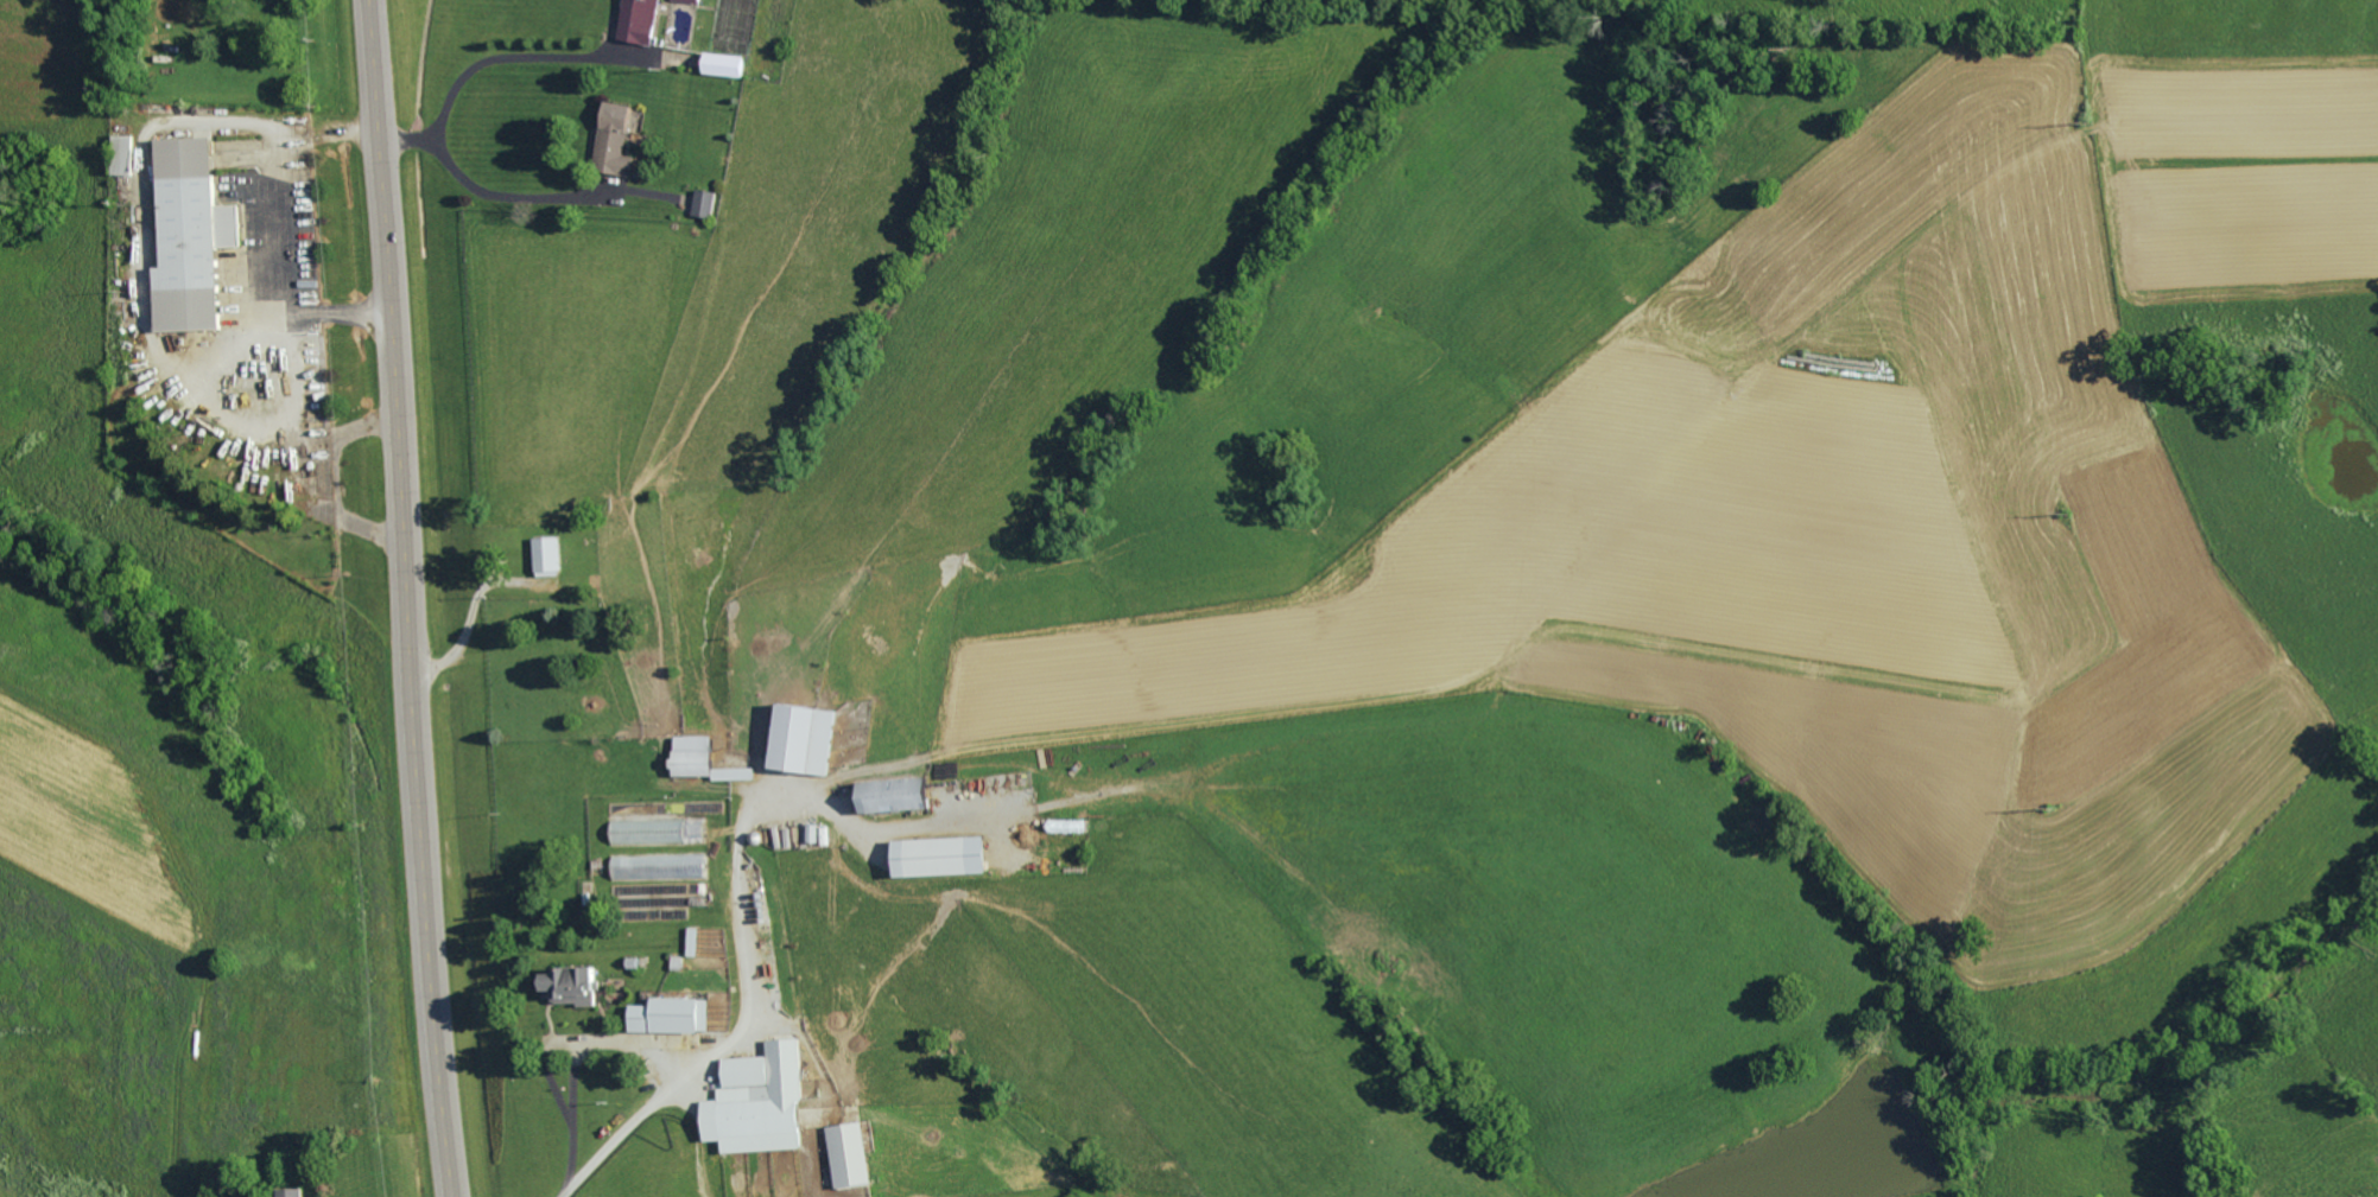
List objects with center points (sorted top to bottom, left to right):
building: (692, 0)
building: (643, 21)
road: (488, 70)
building: (620, 140)
building: (127, 154)
building: (709, 203)
road: (512, 209)
building: (197, 236)
building: (552, 555)
road: (405, 598)
building: (812, 737)
building: (700, 755)
building: (905, 792)
building: (662, 830)
building: (950, 854)
building: (664, 866)
building: (698, 941)
building: (581, 983)
building: (678, 1014)
building: (766, 1100)
building: (856, 1154)
building: (291, 1191)

